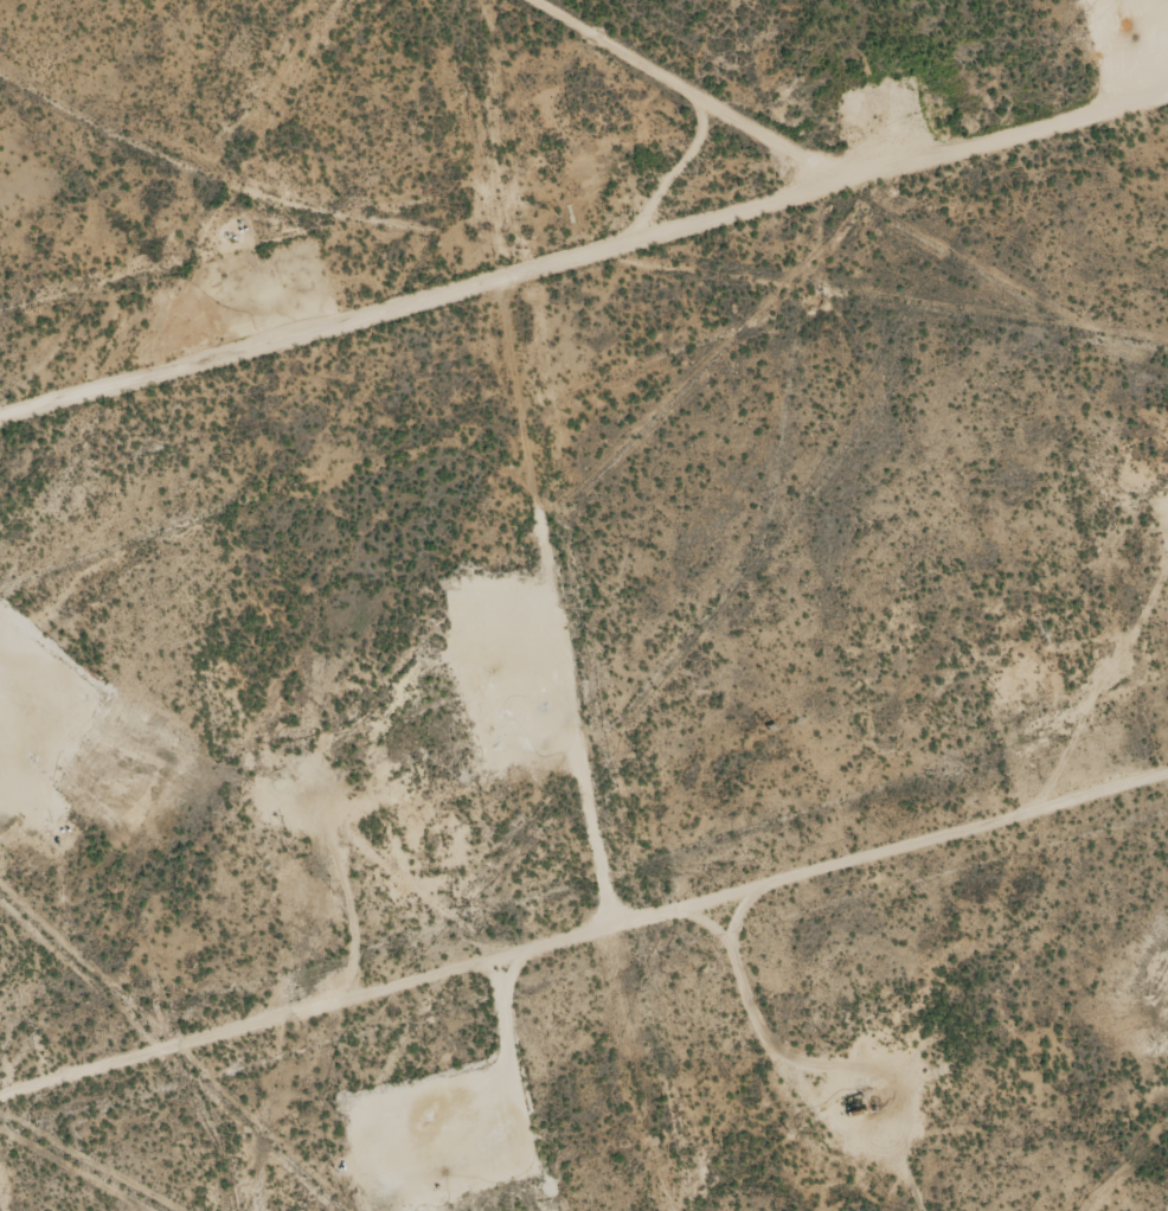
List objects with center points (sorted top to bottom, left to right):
road: (688, 85)
road: (583, 242)

